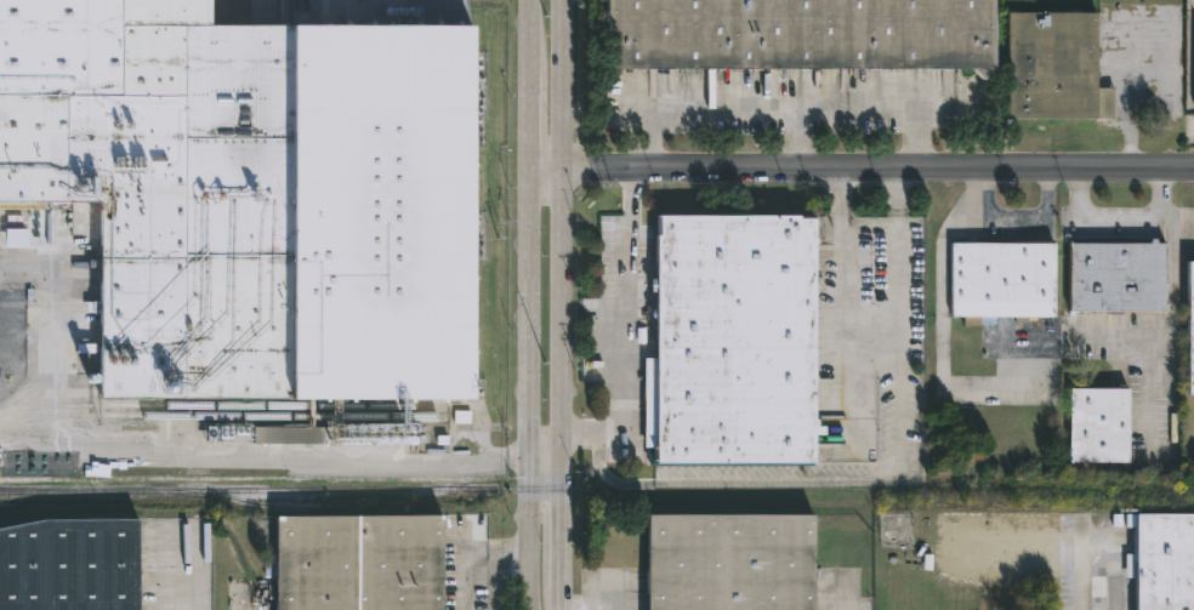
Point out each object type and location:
building: (804, 34)
road: (529, 35)
building: (1056, 67)
road: (1139, 97)
road: (781, 108)
road: (528, 125)
road: (795, 141)
road: (860, 171)
building: (255, 194)
road: (1114, 216)
road: (1013, 221)
road: (845, 266)
road: (898, 270)
building: (1120, 277)
building: (1003, 281)
road: (562, 304)
road: (1172, 312)
building: (1193, 327)
road: (943, 336)
road: (631, 337)
building: (733, 340)
road: (17, 346)
road: (8, 349)
road: (528, 394)
railway: (45, 415)
building: (461, 416)
building: (1101, 424)
road: (899, 429)
building: (289, 435)
road: (545, 445)
road: (186, 457)
road: (728, 484)
railway: (290, 485)
road: (464, 545)
building: (1164, 560)
building: (732, 561)
building: (69, 563)
building: (356, 563)
road: (194, 571)
road: (1081, 576)
road: (613, 591)
road: (835, 594)

